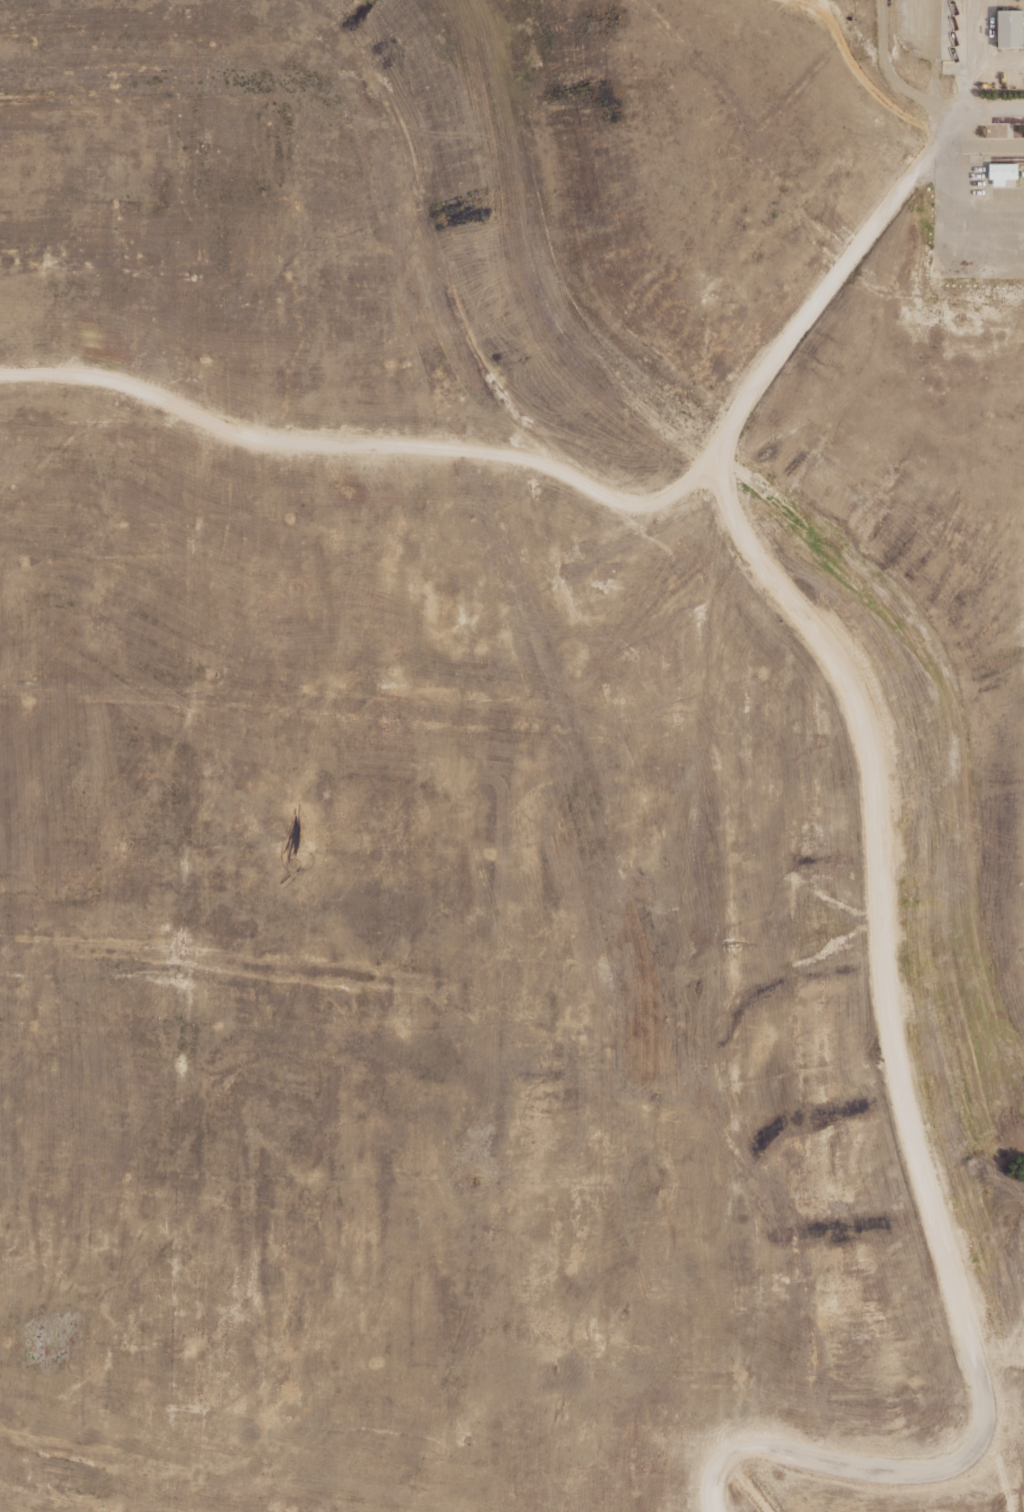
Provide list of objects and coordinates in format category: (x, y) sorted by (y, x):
road: (797, 9)
building: (1010, 28)
road: (971, 66)
road: (965, 127)
road: (928, 129)
building: (1003, 172)
road: (371, 443)
landfill: (512, 756)
road: (883, 889)
road: (999, 1468)
road: (746, 1485)

